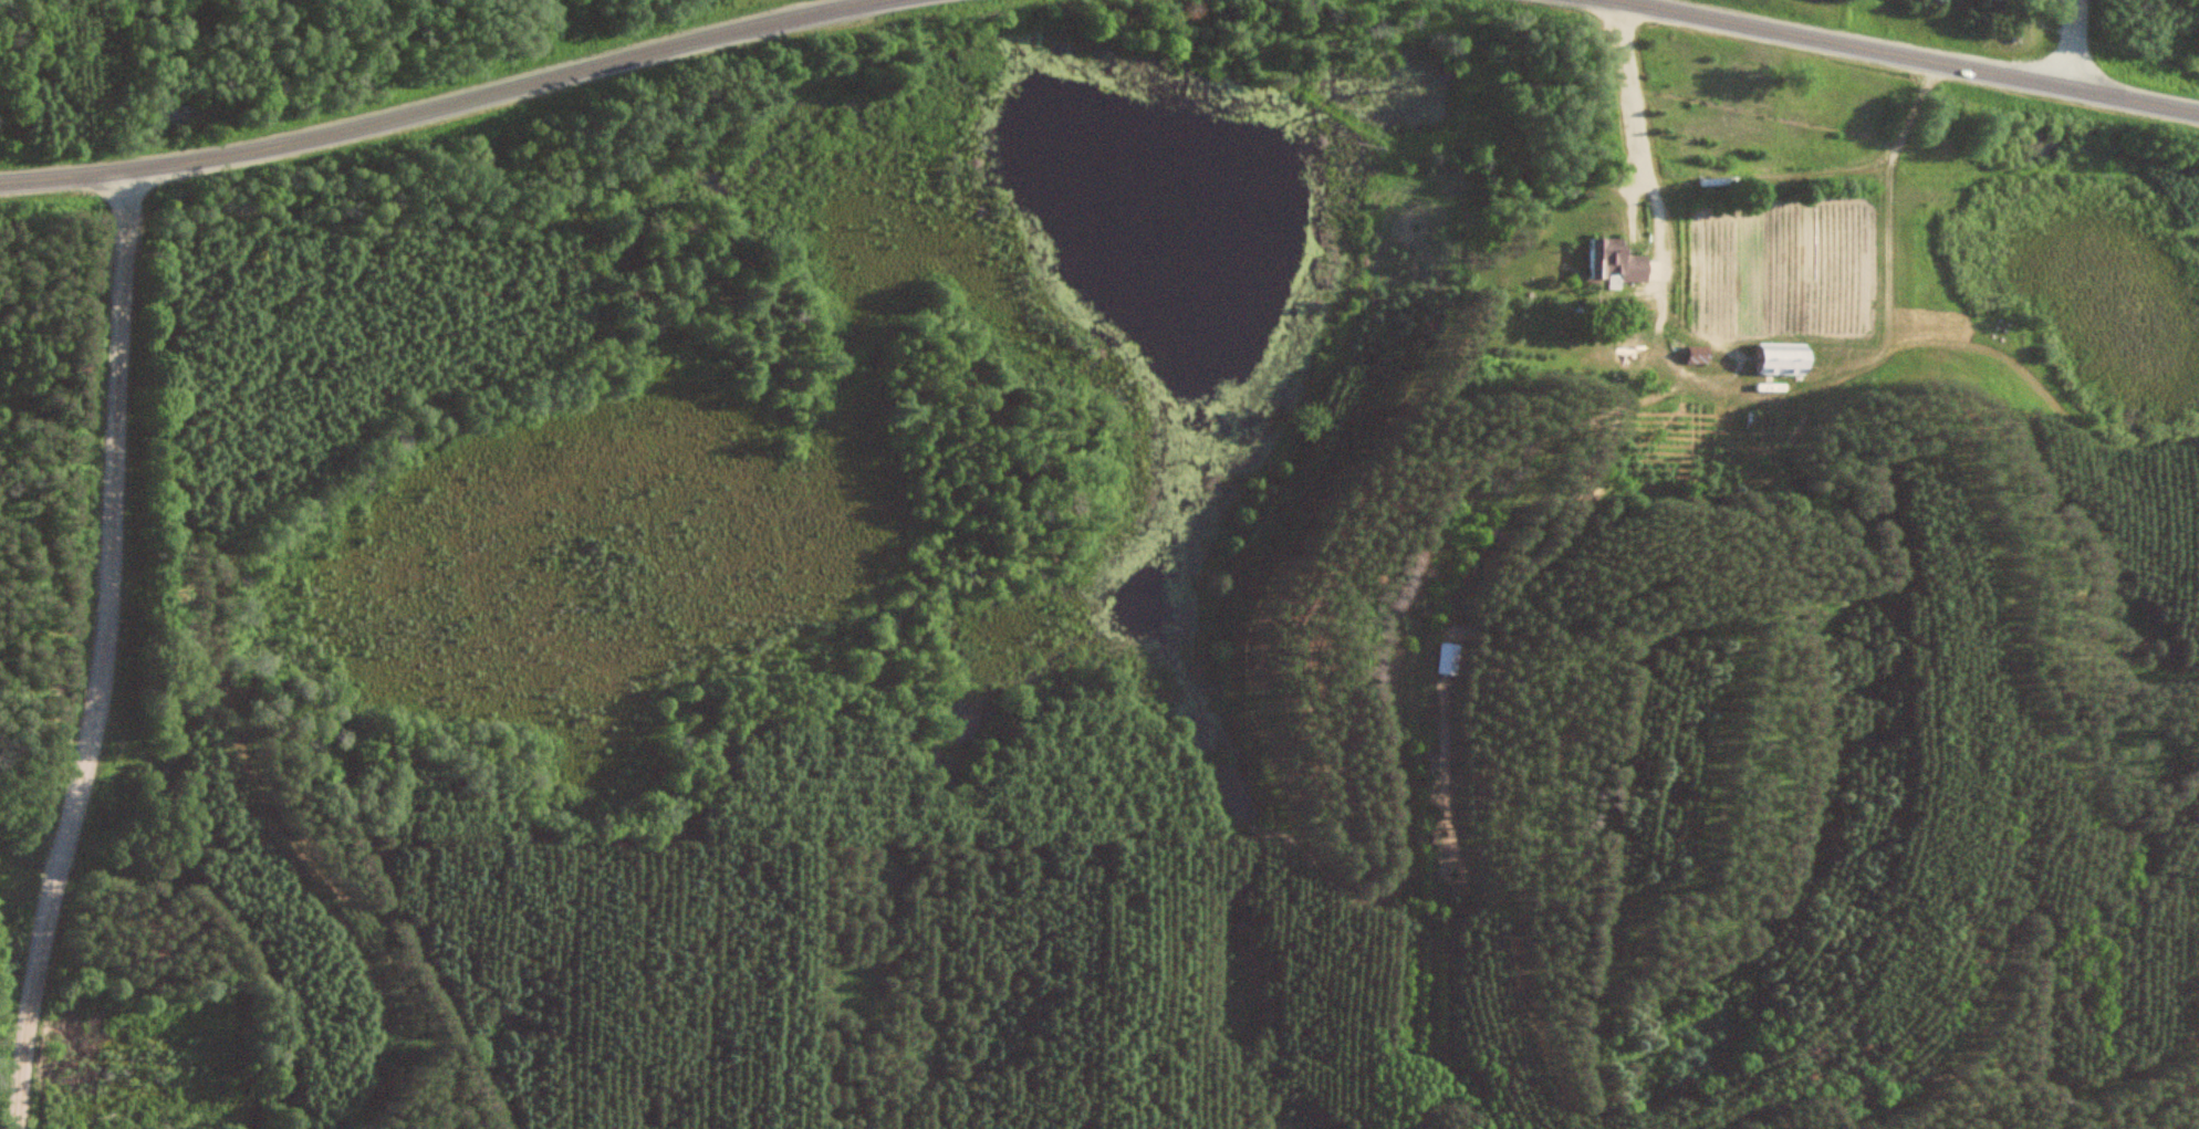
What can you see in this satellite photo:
road: (2077, 44)
road: (1909, 56)
road: (434, 104)
building: (1618, 258)
building: (1702, 353)
building: (1790, 356)
road: (102, 651)

